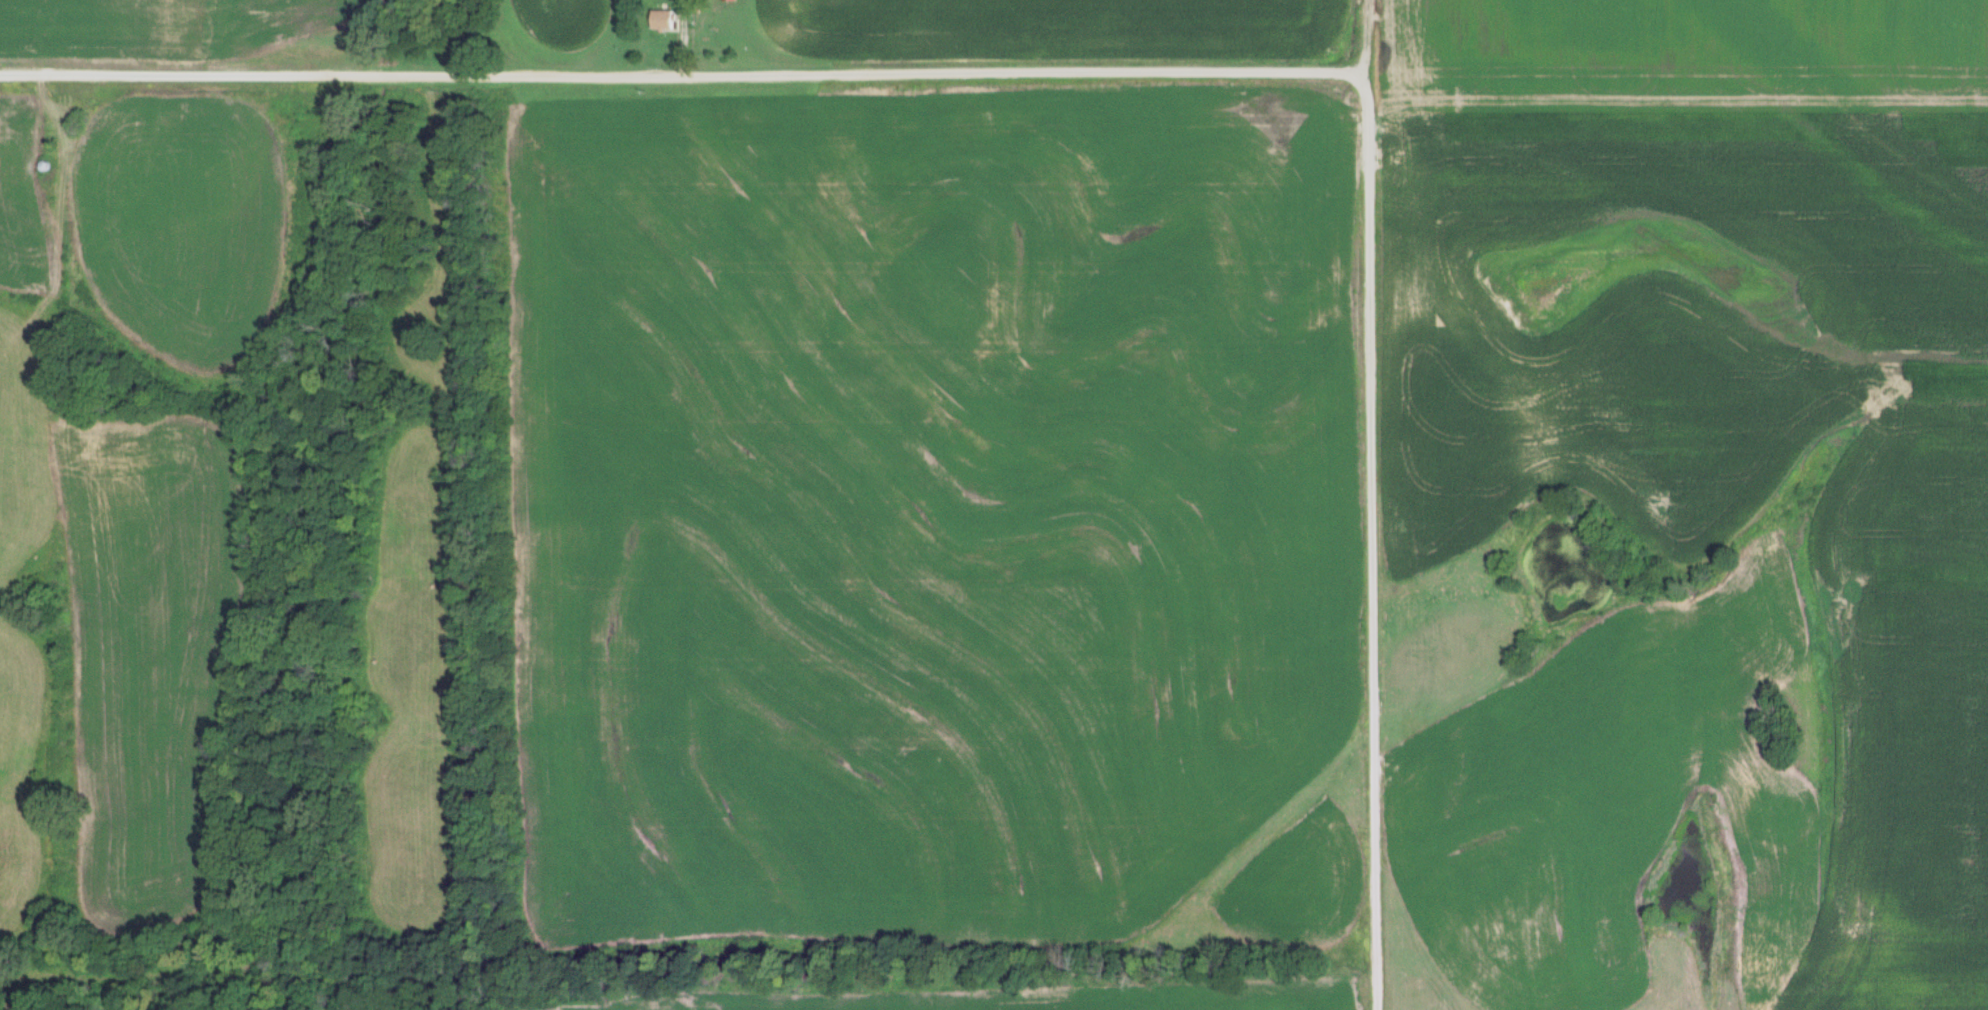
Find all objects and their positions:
building: (663, 19)
road: (676, 72)
road: (1369, 540)

